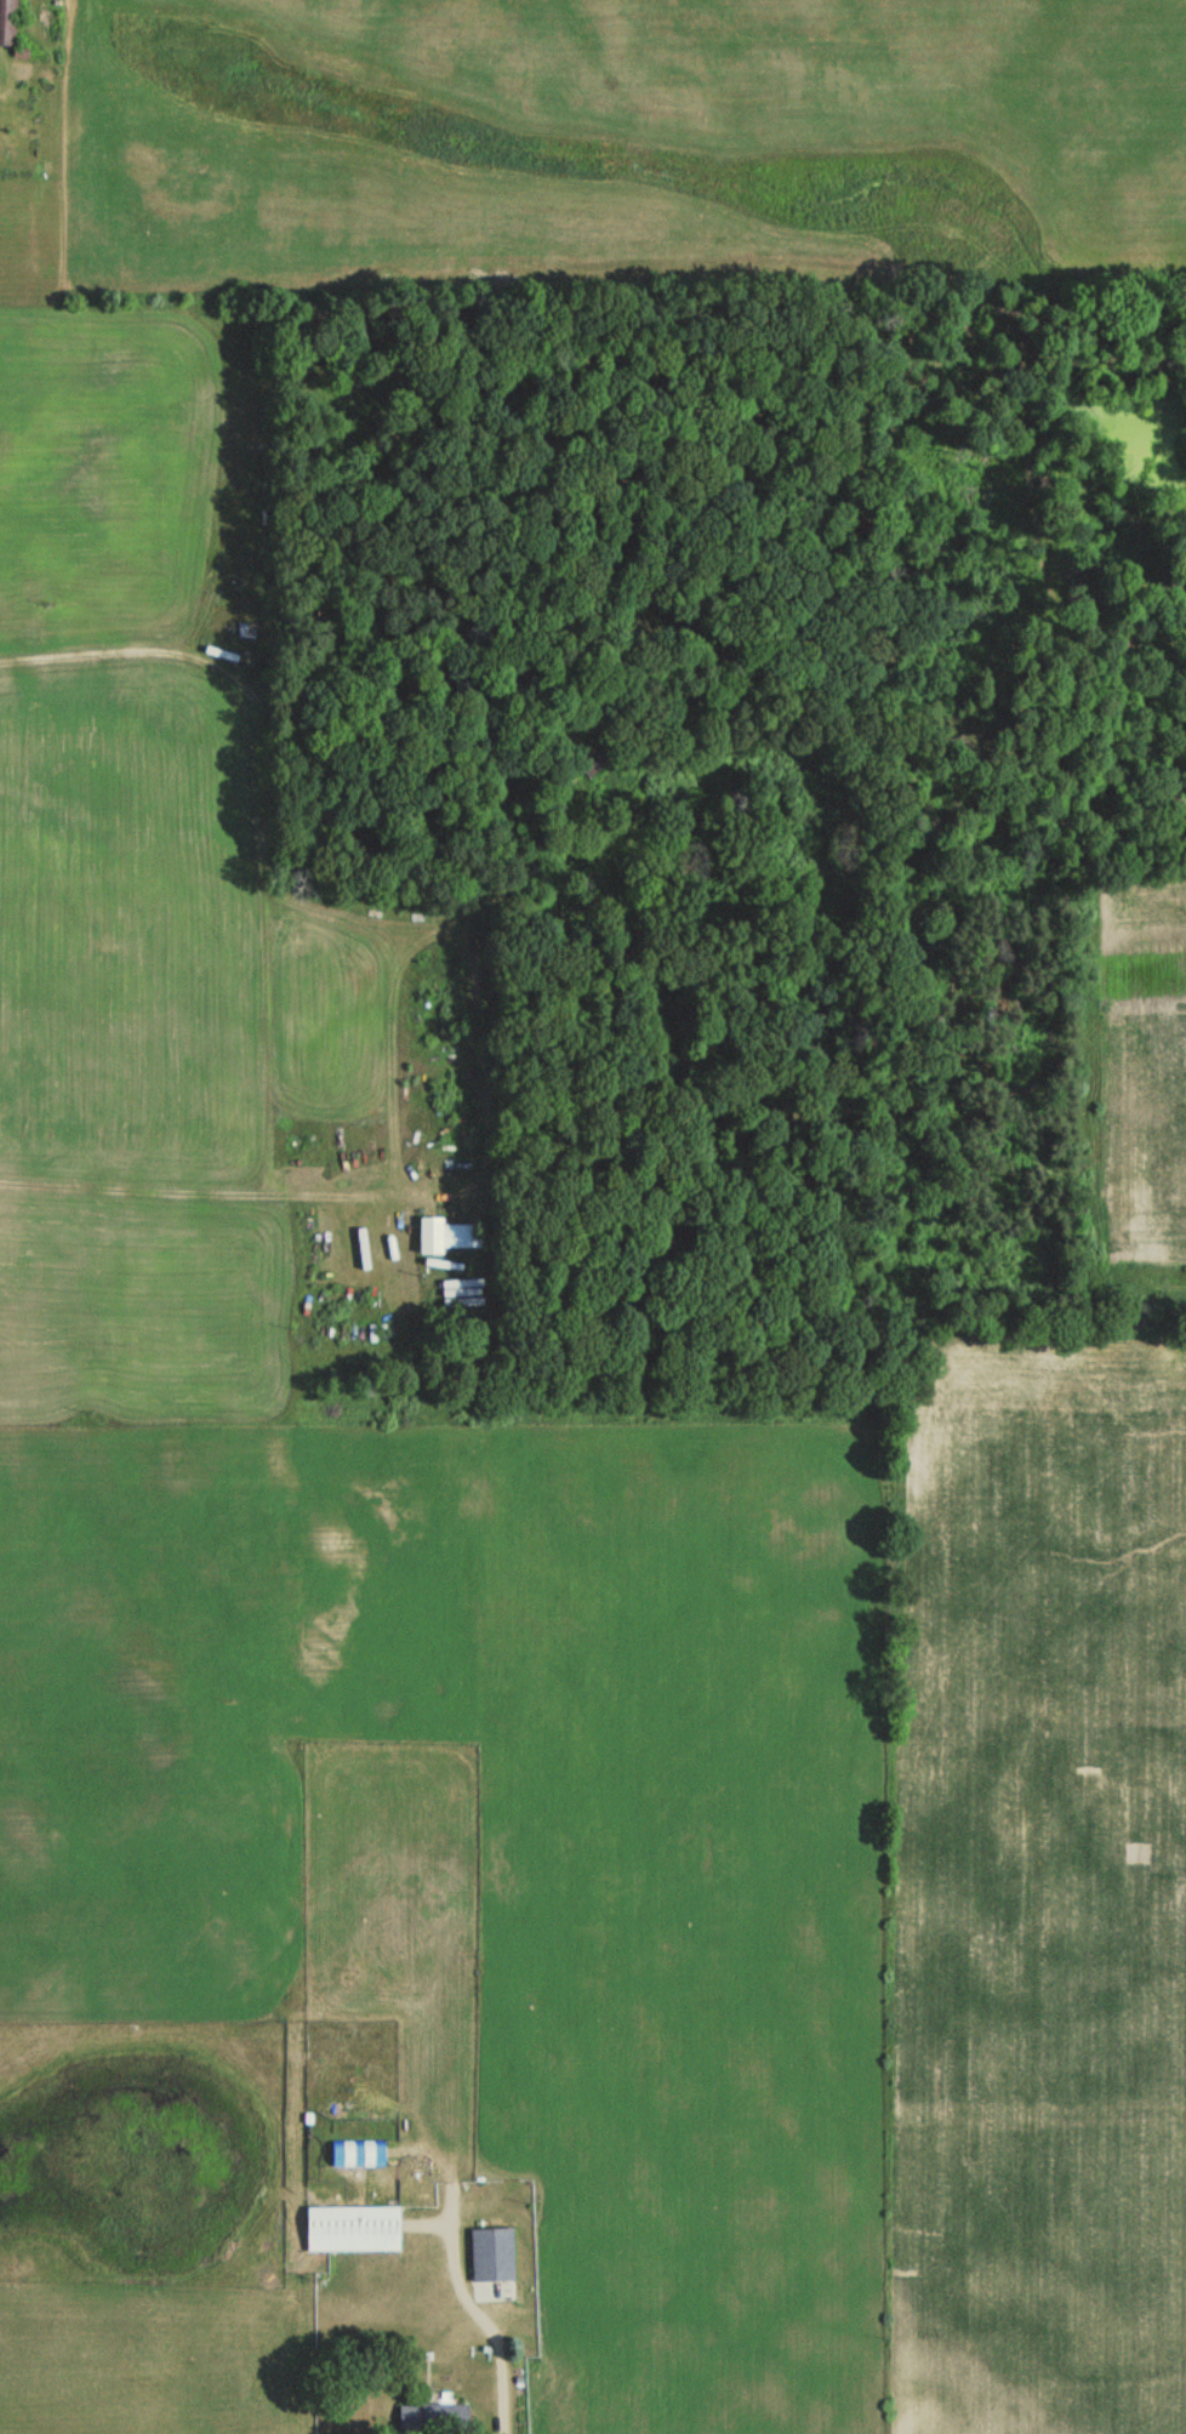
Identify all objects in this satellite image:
building: (6, 22)
road: (201, 659)
building: (594, 762)
building: (431, 1236)
building: (464, 1237)
building: (359, 2154)
building: (353, 2229)
building: (494, 2257)
building: (484, 2295)
road: (481, 2324)
building: (433, 2419)

